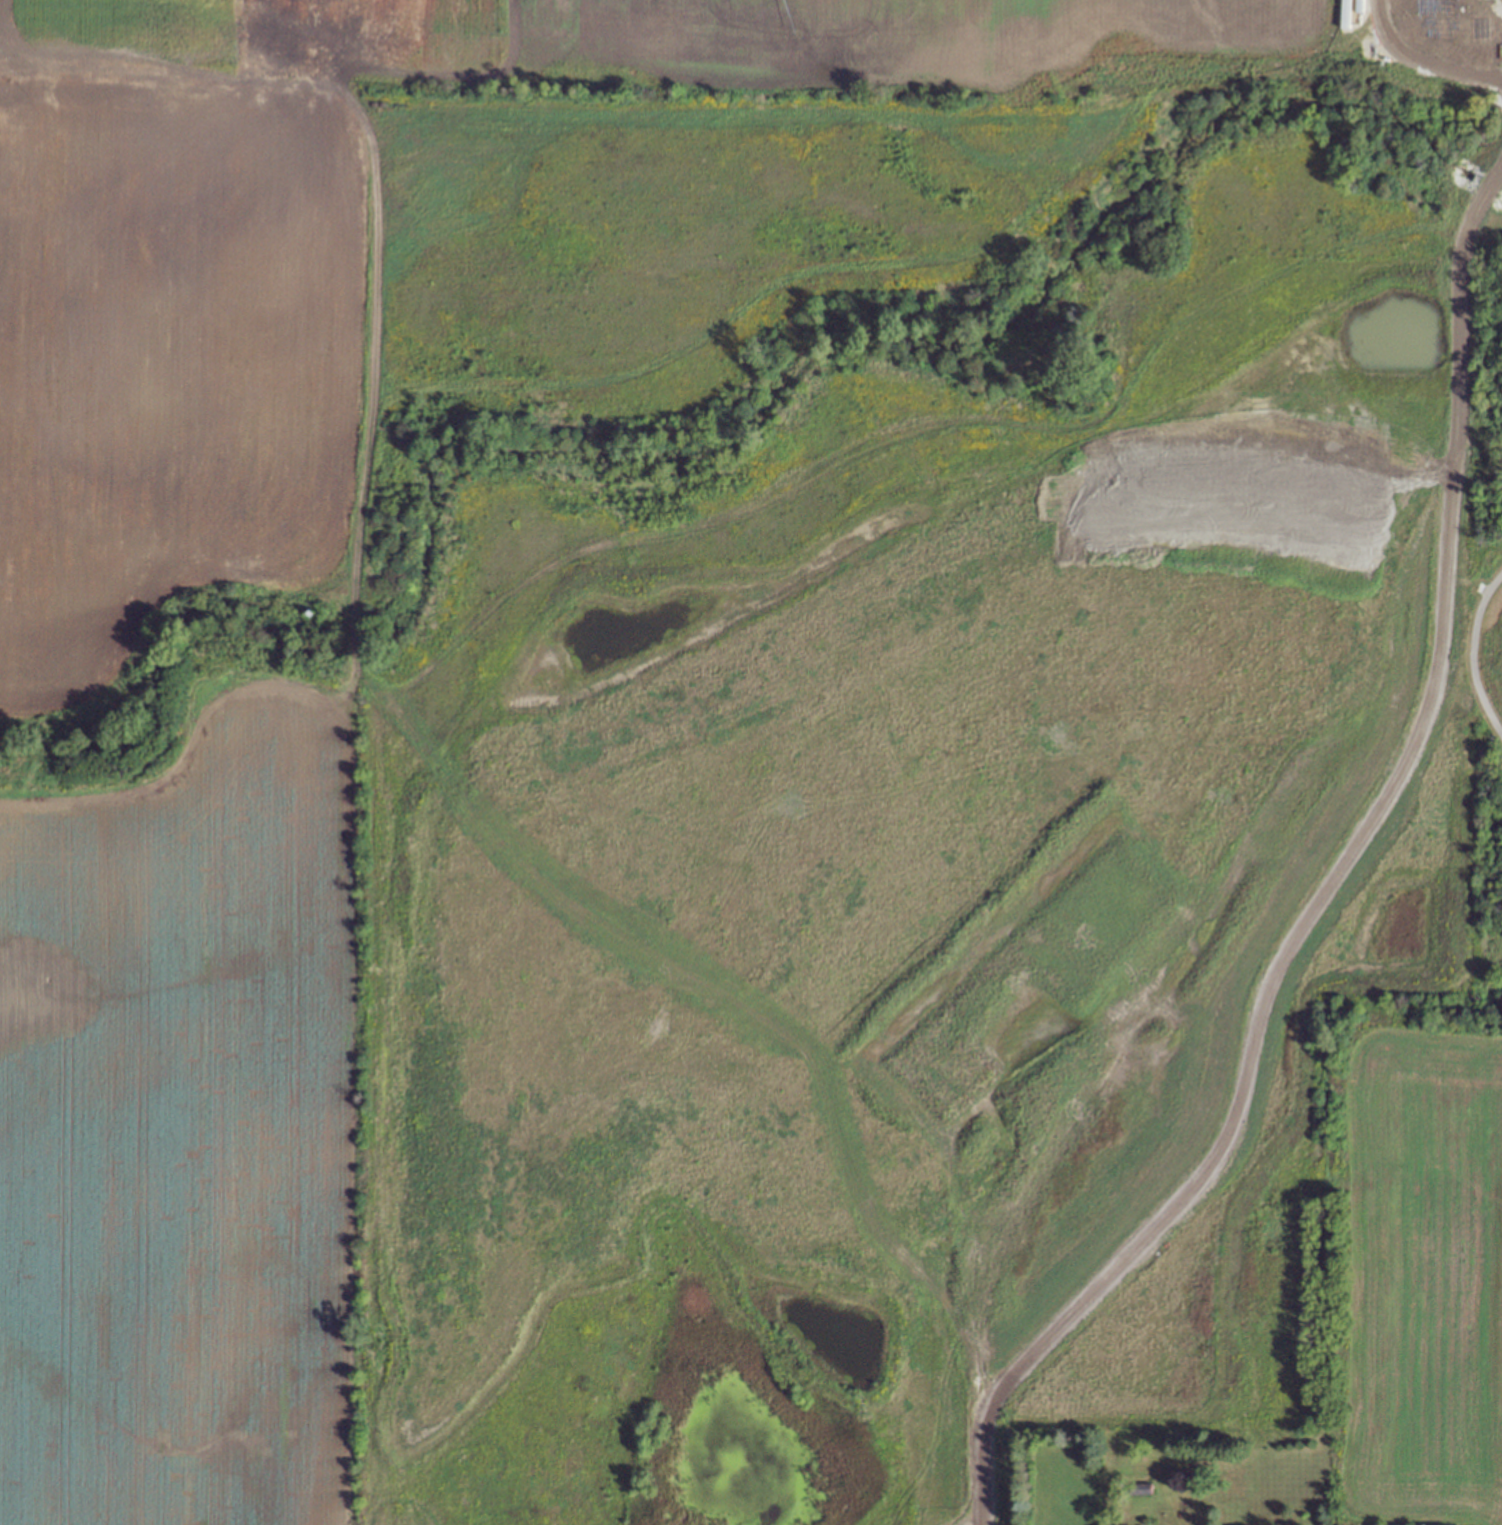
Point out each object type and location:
road: (1435, 69)
road: (1472, 653)
crop: (268, 665)
park: (902, 760)
road: (1327, 882)
crop: (1415, 1268)
building: (1139, 1488)

